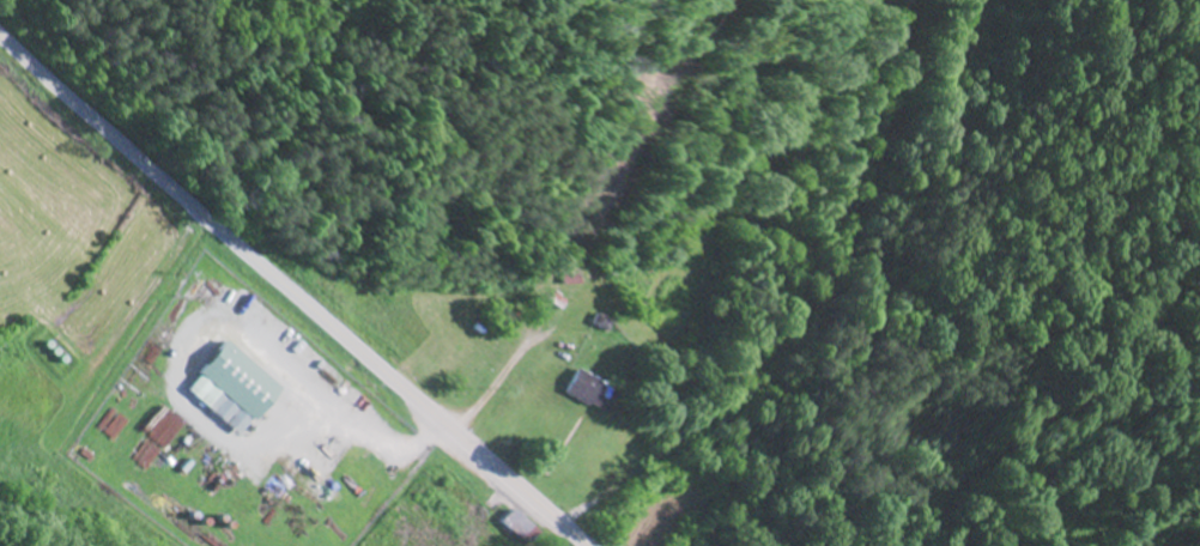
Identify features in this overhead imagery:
road: (295, 284)
road: (812, 308)
building: (240, 388)
building: (596, 392)

